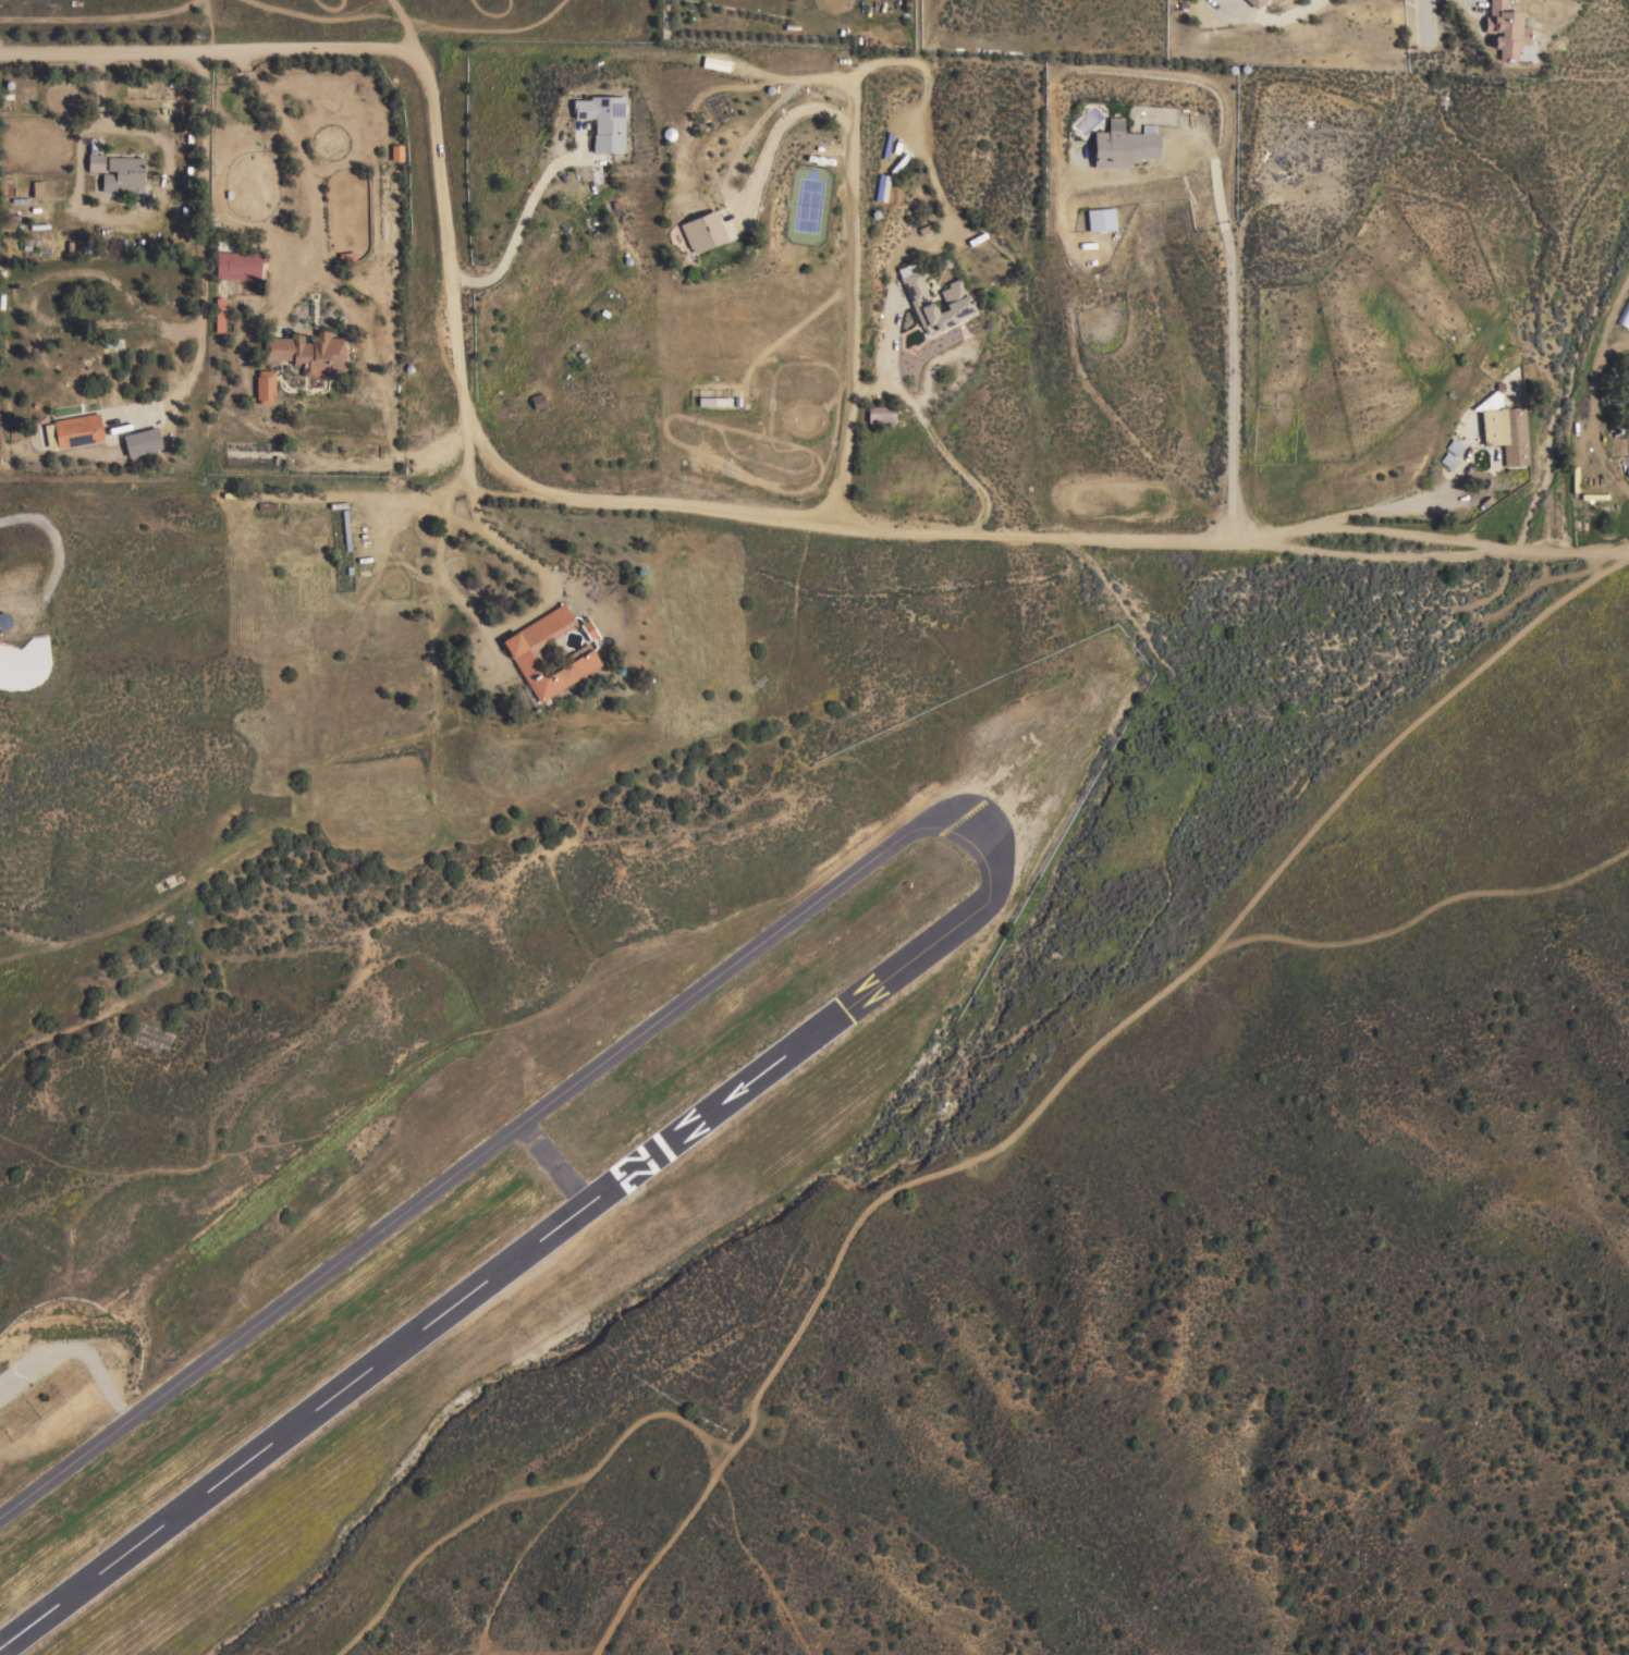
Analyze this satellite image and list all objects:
building: (1252, 2)
road: (1264, 15)
road: (1423, 22)
building: (1504, 29)
road: (645, 50)
building: (602, 121)
road: (770, 138)
building: (1122, 145)
building: (395, 152)
building: (94, 159)
building: (122, 174)
building: (36, 189)
road: (522, 217)
building: (1100, 219)
building: (700, 231)
road: (205, 237)
building: (236, 265)
building: (954, 298)
building: (218, 315)
road: (457, 332)
road: (1230, 335)
building: (307, 352)
building: (264, 387)
building: (536, 400)
building: (879, 414)
road: (1587, 414)
building: (1503, 427)
building: (73, 430)
building: (143, 443)
building: (1453, 446)
building: (1447, 461)
road: (1357, 506)
road: (871, 528)
building: (344, 529)
road: (1385, 532)
road: (1565, 548)
road: (1383, 557)
building: (578, 657)
building: (23, 663)
road: (1058, 1083)
airport taxiway: (501, 1131)
airport: (486, 1156)
airport taxiway: (547, 1163)
airport runway: (493, 1270)

